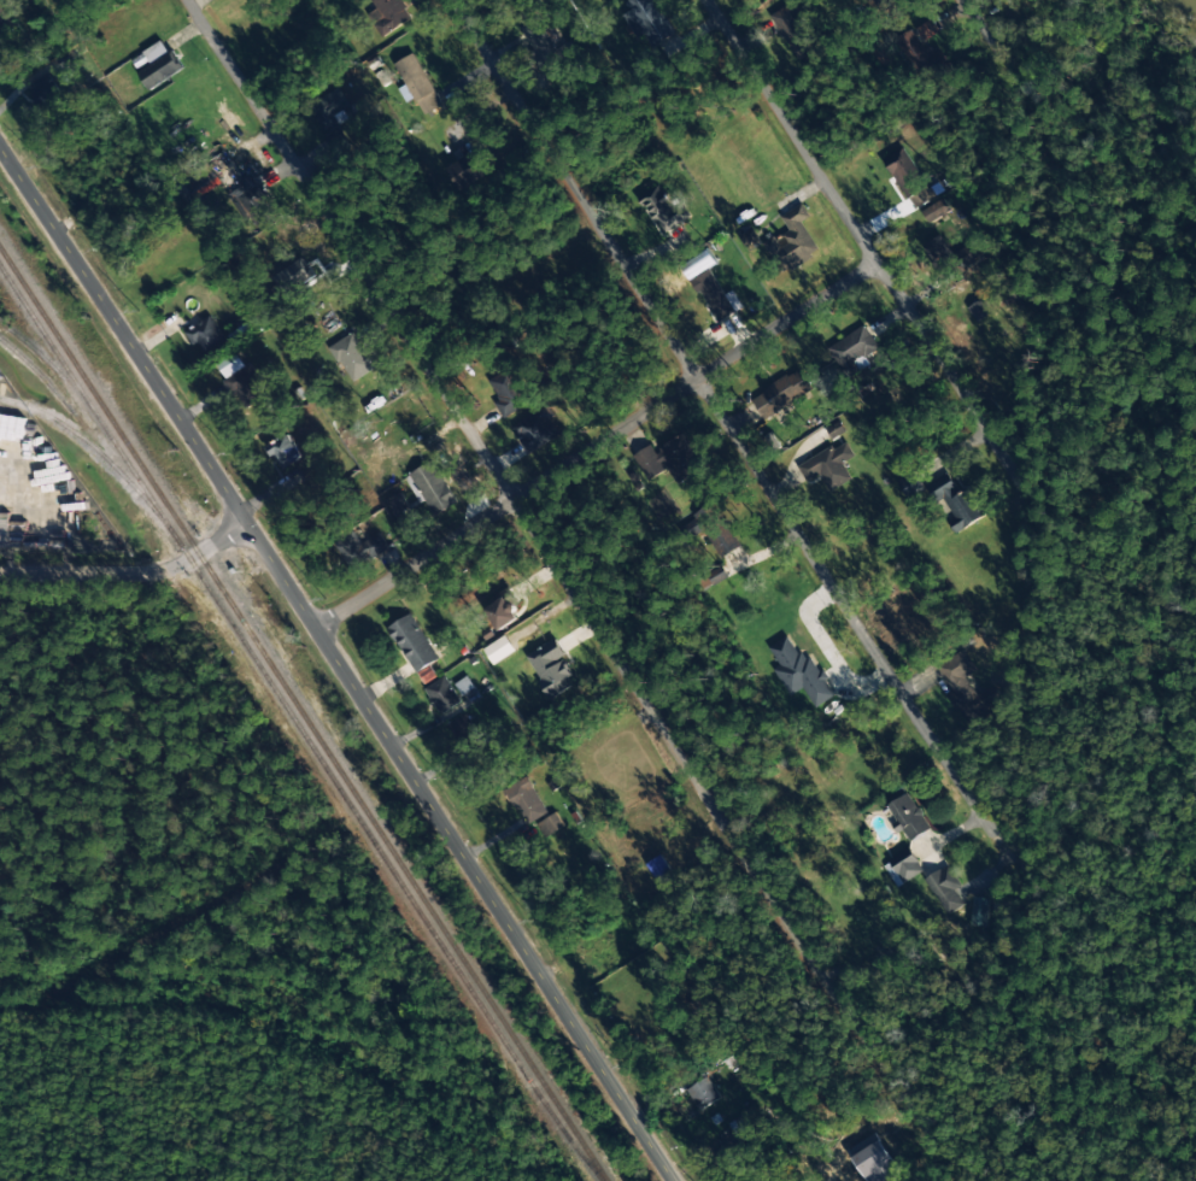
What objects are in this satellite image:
building: (885, 2)
building: (388, 14)
building: (6, 19)
building: (649, 22)
road: (978, 22)
building: (793, 30)
building: (547, 47)
building: (920, 55)
building: (156, 64)
building: (412, 82)
building: (468, 169)
building: (903, 172)
building: (920, 196)
building: (663, 210)
building: (932, 211)
road: (851, 223)
building: (747, 236)
building: (795, 239)
building: (944, 255)
building: (699, 264)
building: (716, 296)
building: (973, 310)
building: (205, 334)
building: (852, 348)
building: (352, 357)
building: (242, 380)
building: (508, 393)
building: (781, 393)
road: (723, 418)
building: (535, 430)
road: (598, 445)
building: (285, 452)
building: (670, 459)
building: (828, 466)
building: (433, 487)
building: (397, 503)
building: (957, 503)
building: (711, 529)
building: (367, 548)
road: (559, 566)
road: (133, 572)
building: (502, 613)
building: (412, 642)
building: (500, 650)
road: (340, 659)
building: (551, 668)
building: (798, 670)
building: (464, 686)
building: (965, 689)
building: (441, 695)
railway: (303, 713)
building: (463, 731)
railway: (309, 744)
building: (526, 800)
building: (908, 817)
building: (547, 825)
building: (904, 870)
building: (944, 889)
building: (975, 911)
building: (703, 1093)
building: (874, 1162)

